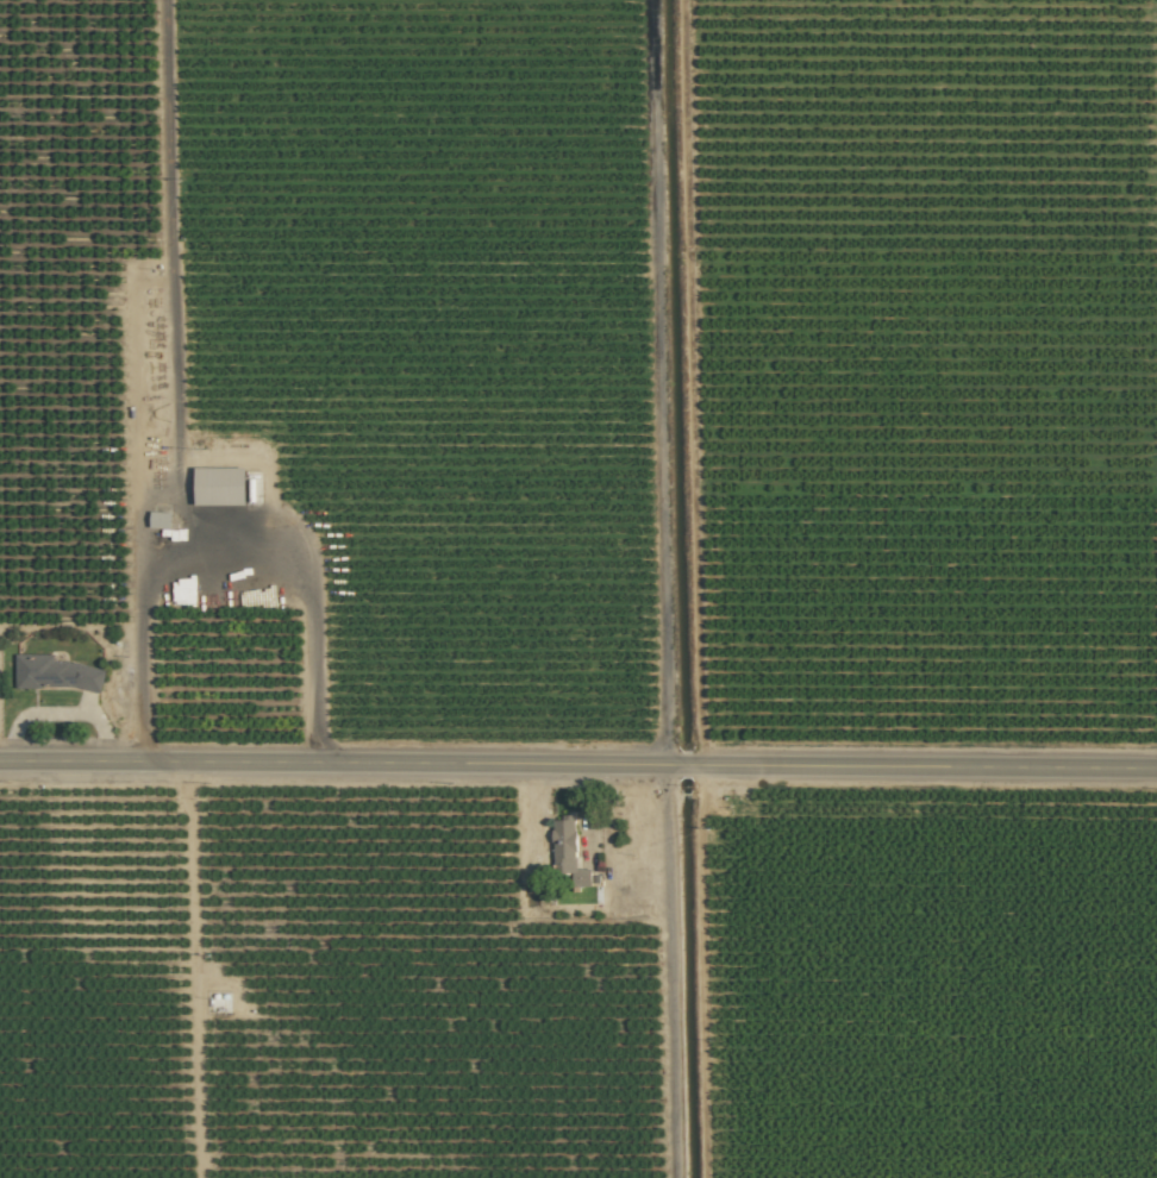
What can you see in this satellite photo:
building: (220, 485)
building: (160, 519)
road: (226, 553)
building: (55, 672)
road: (577, 763)
building: (563, 845)

